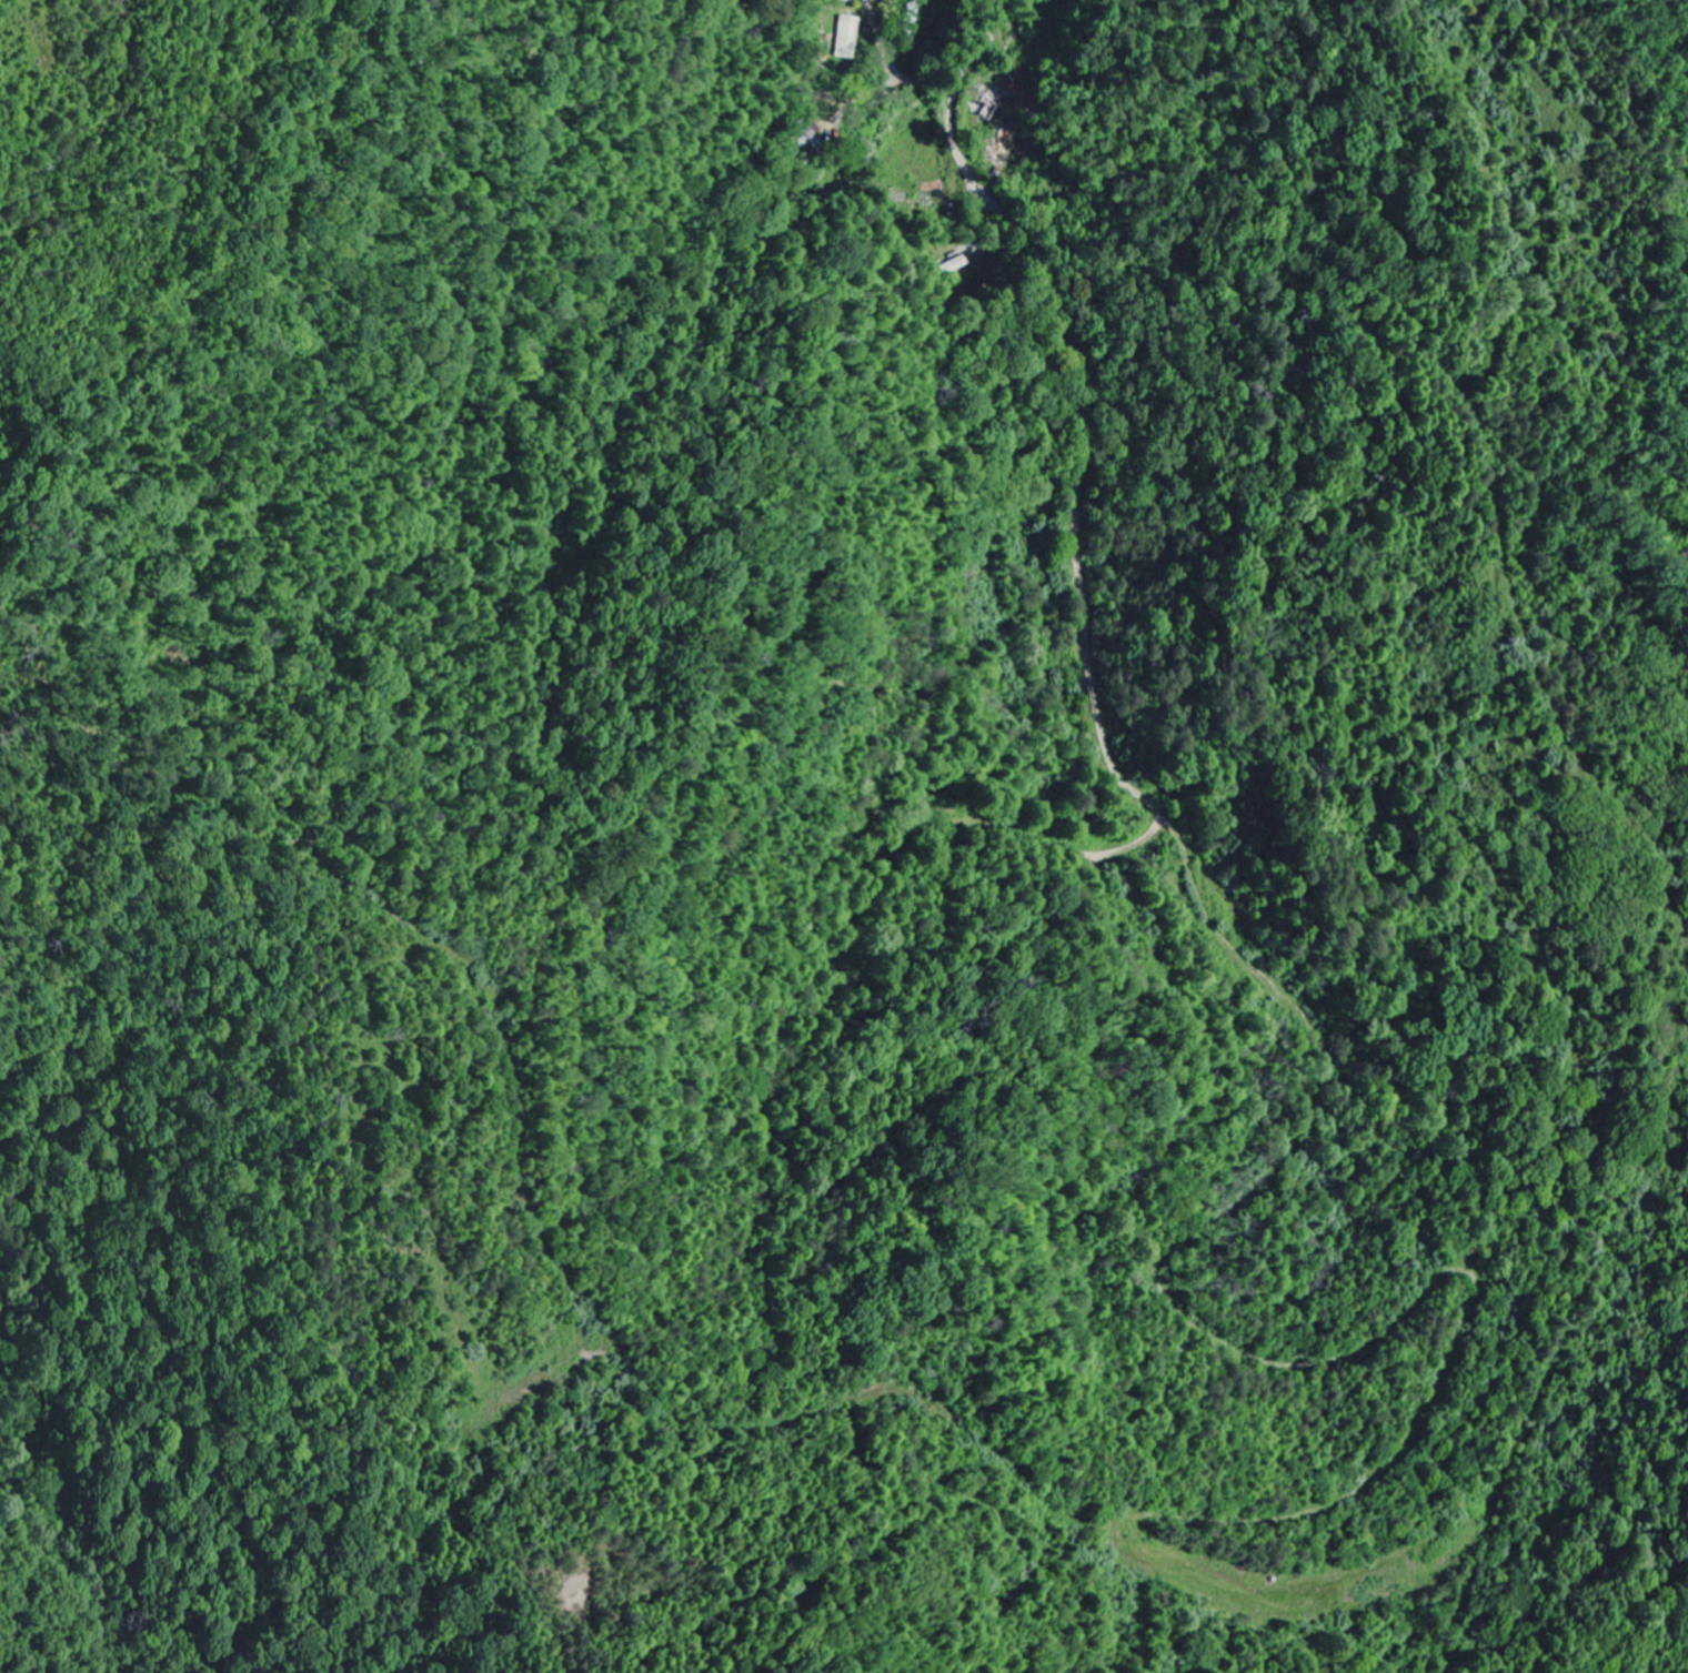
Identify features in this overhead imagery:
building: (847, 39)
road: (907, 74)
road: (1085, 436)

